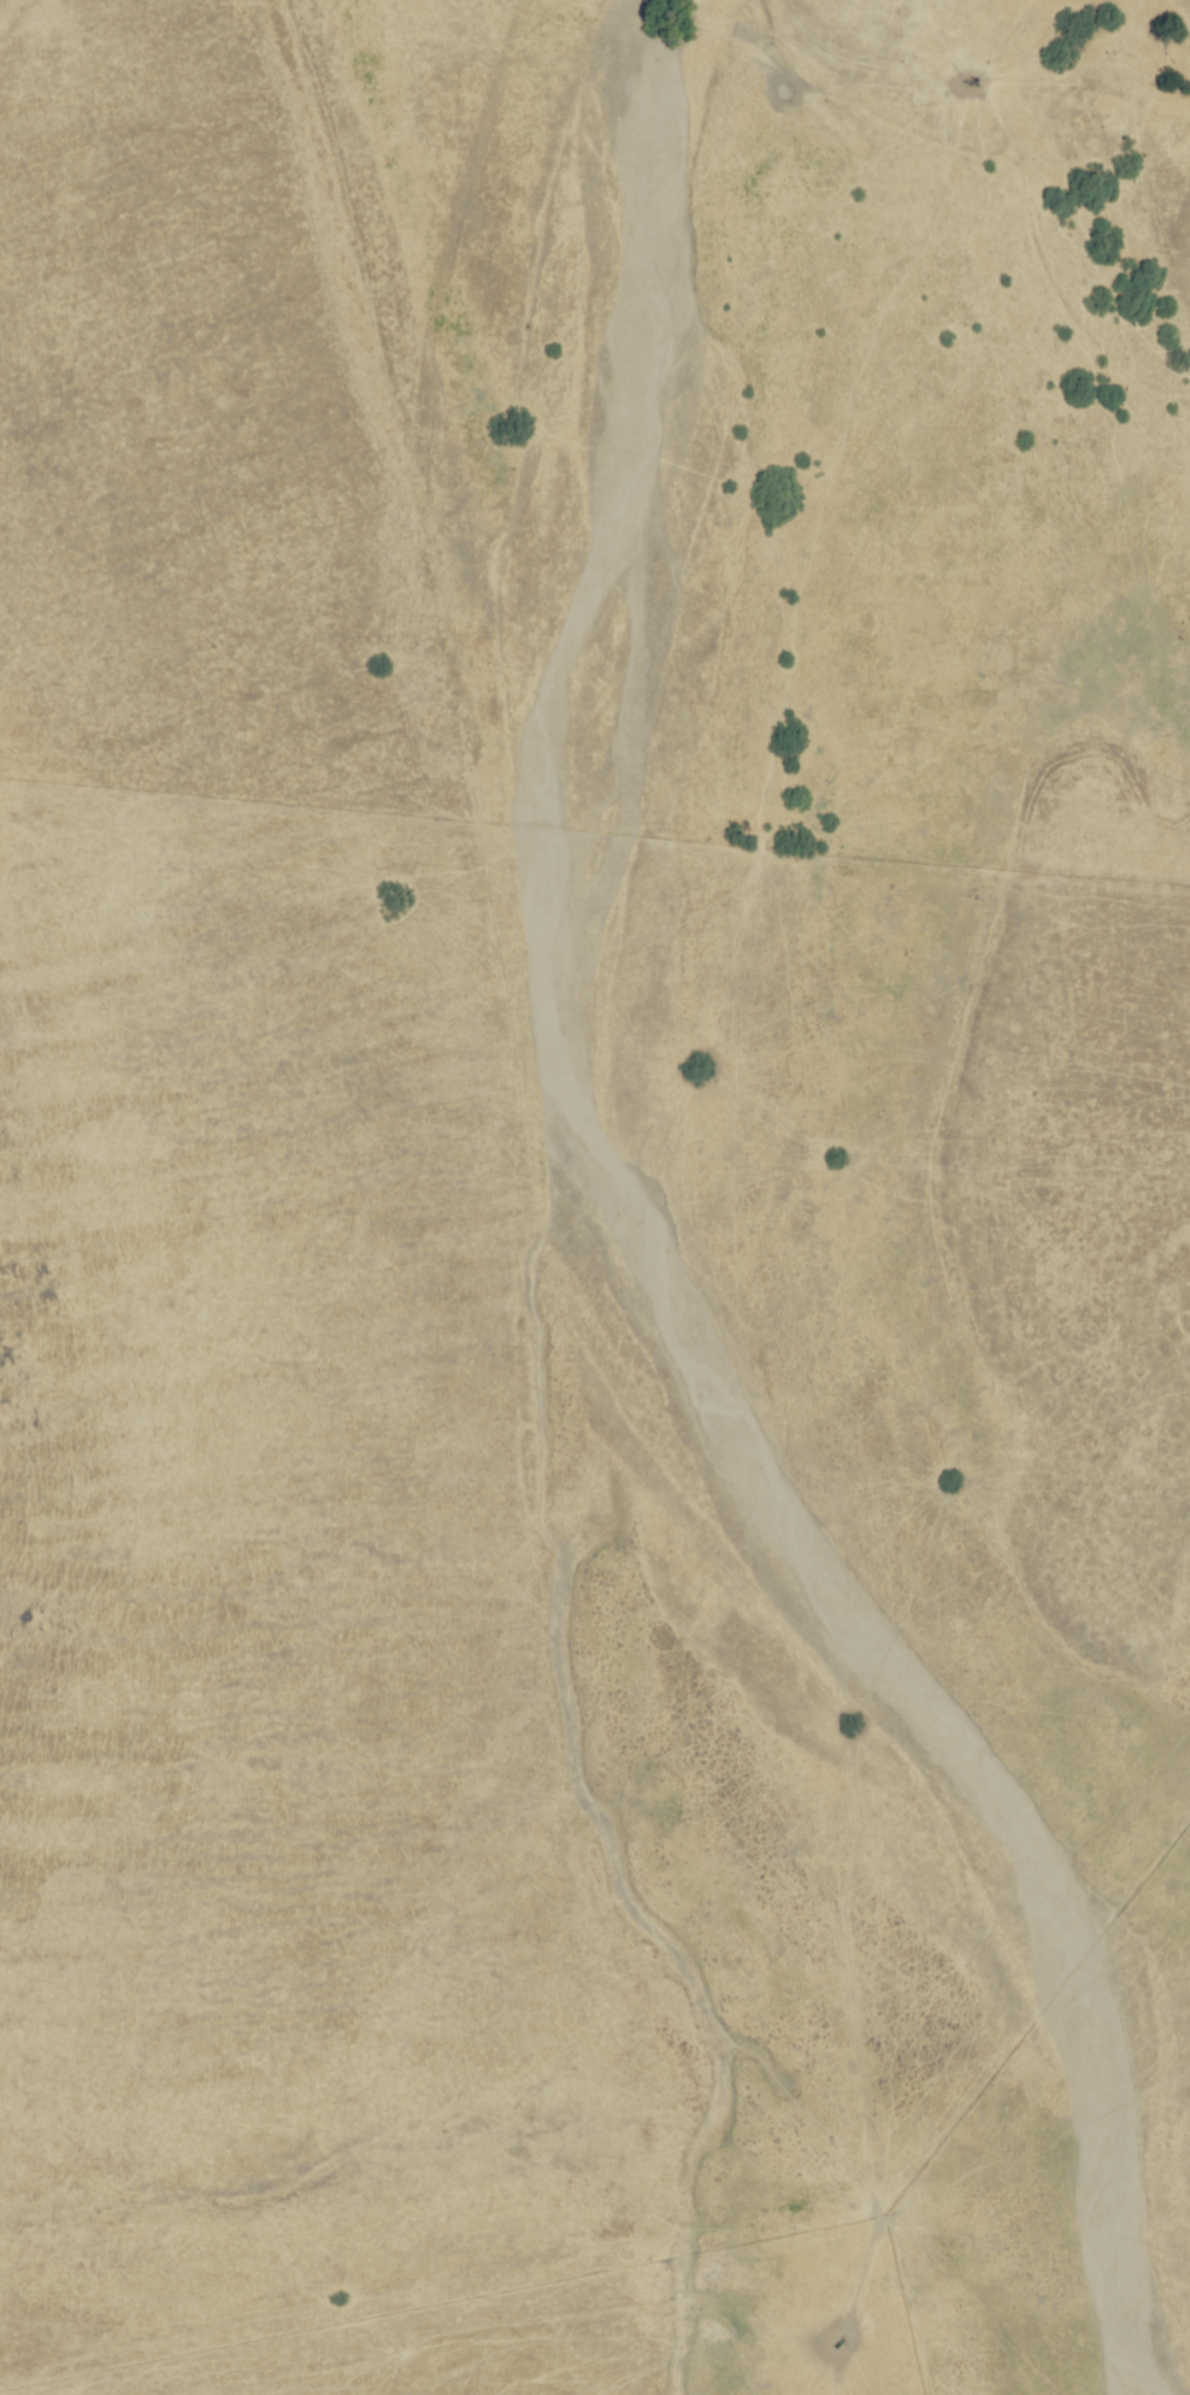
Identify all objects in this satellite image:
crop: (831, 1100)

